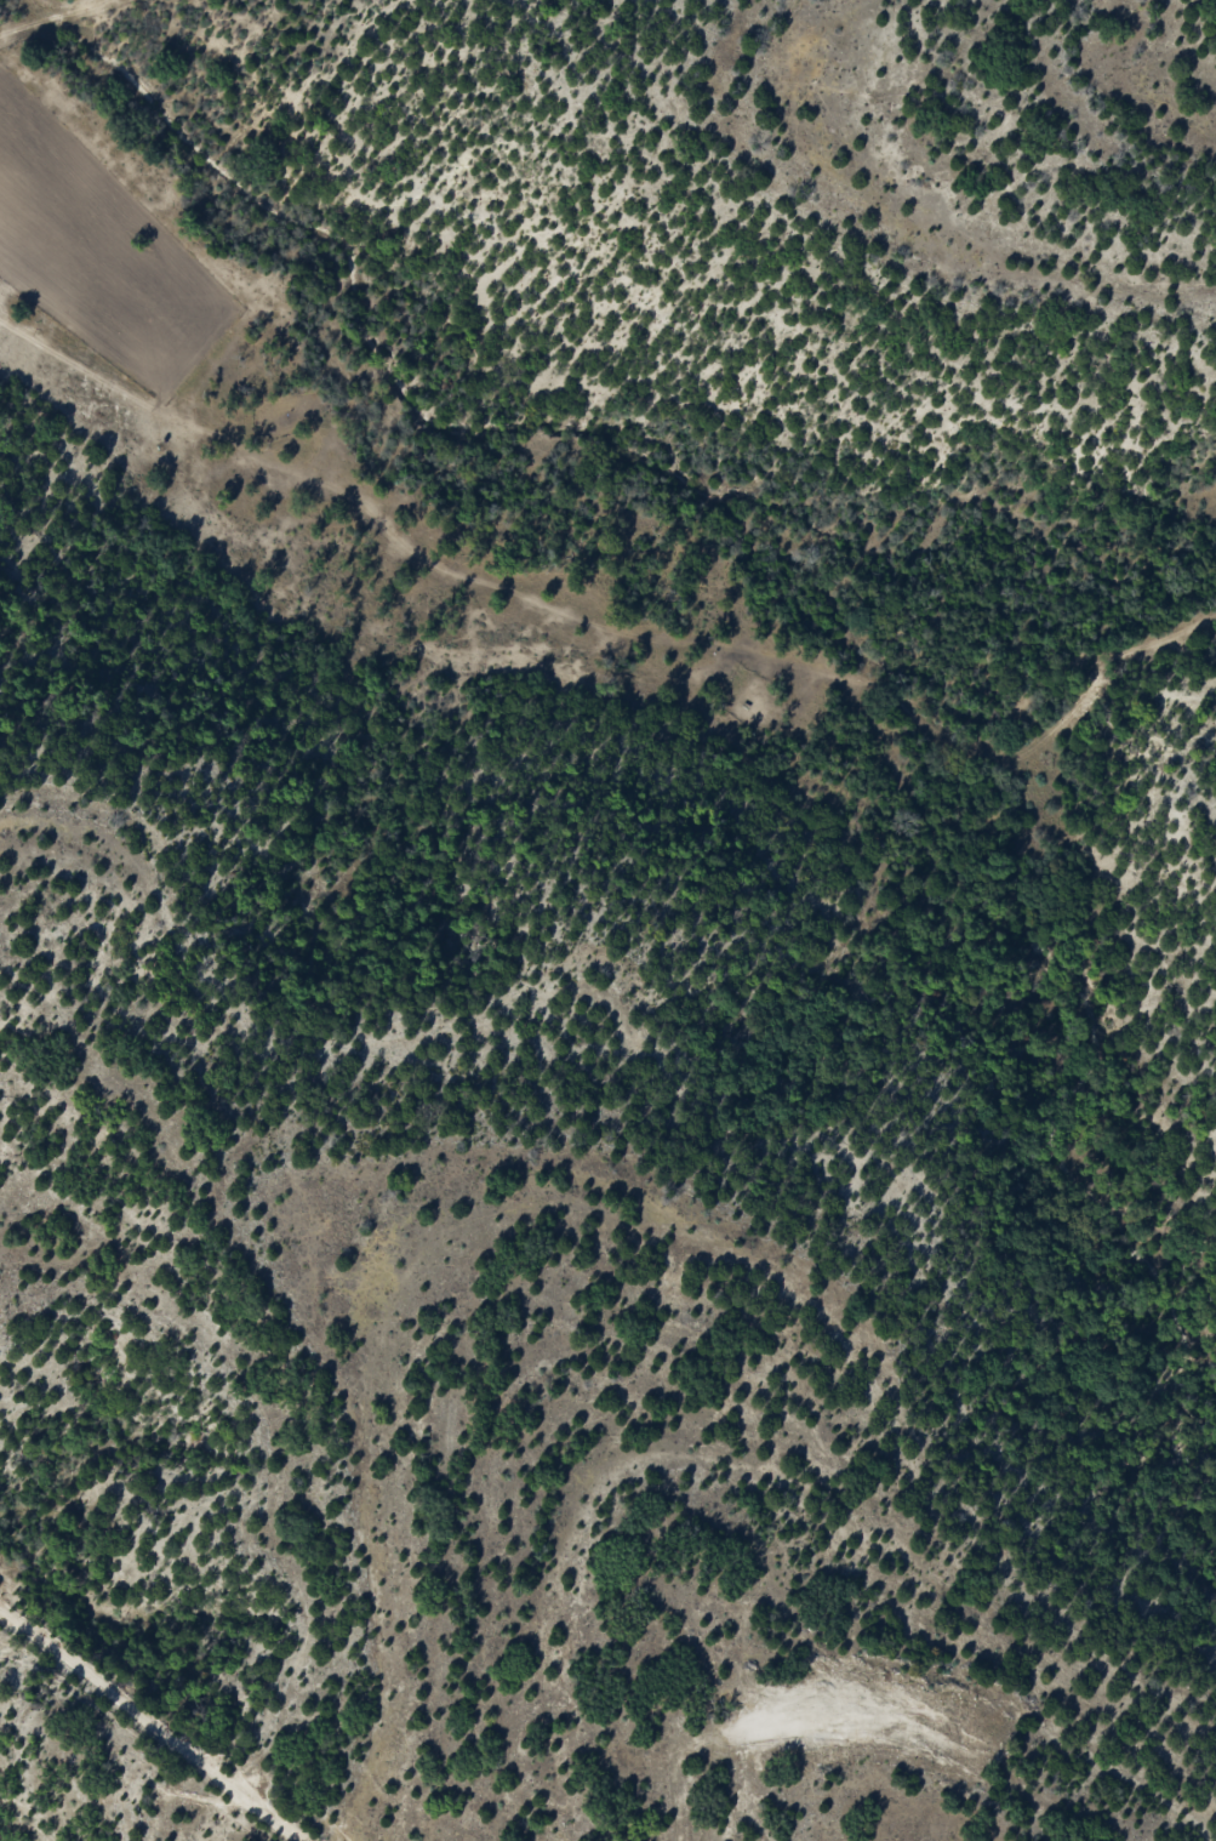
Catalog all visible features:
road: (110, 1743)

